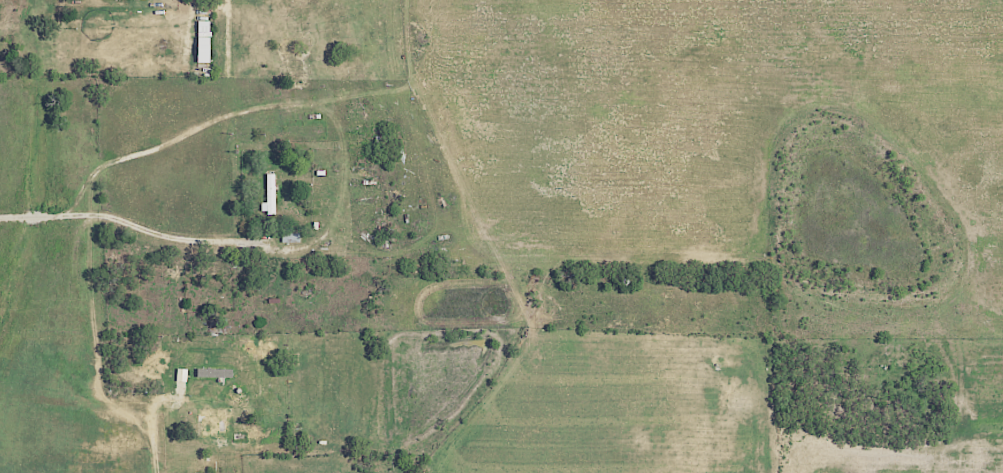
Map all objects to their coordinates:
building: (203, 42)
road: (190, 131)
building: (269, 195)
road: (130, 223)
road: (153, 422)

